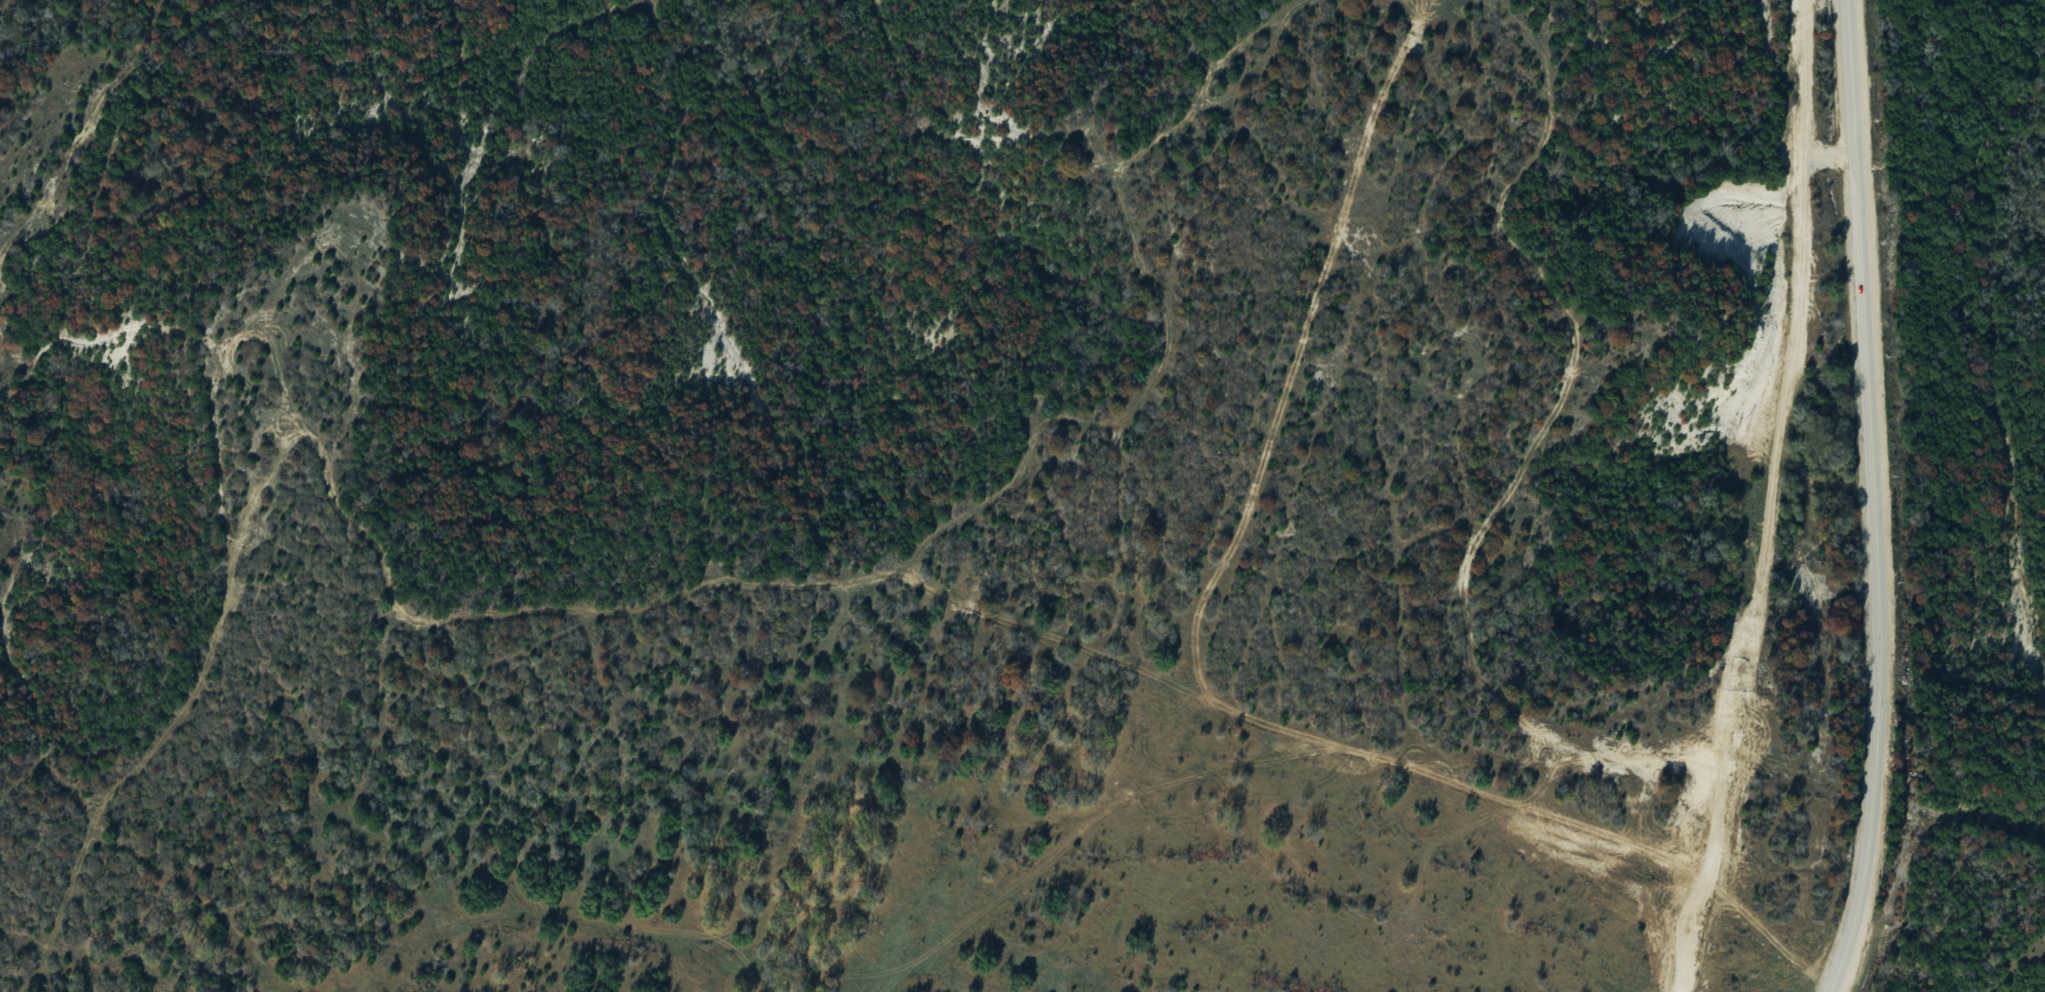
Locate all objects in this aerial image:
road: (1873, 498)
road: (1773, 499)

